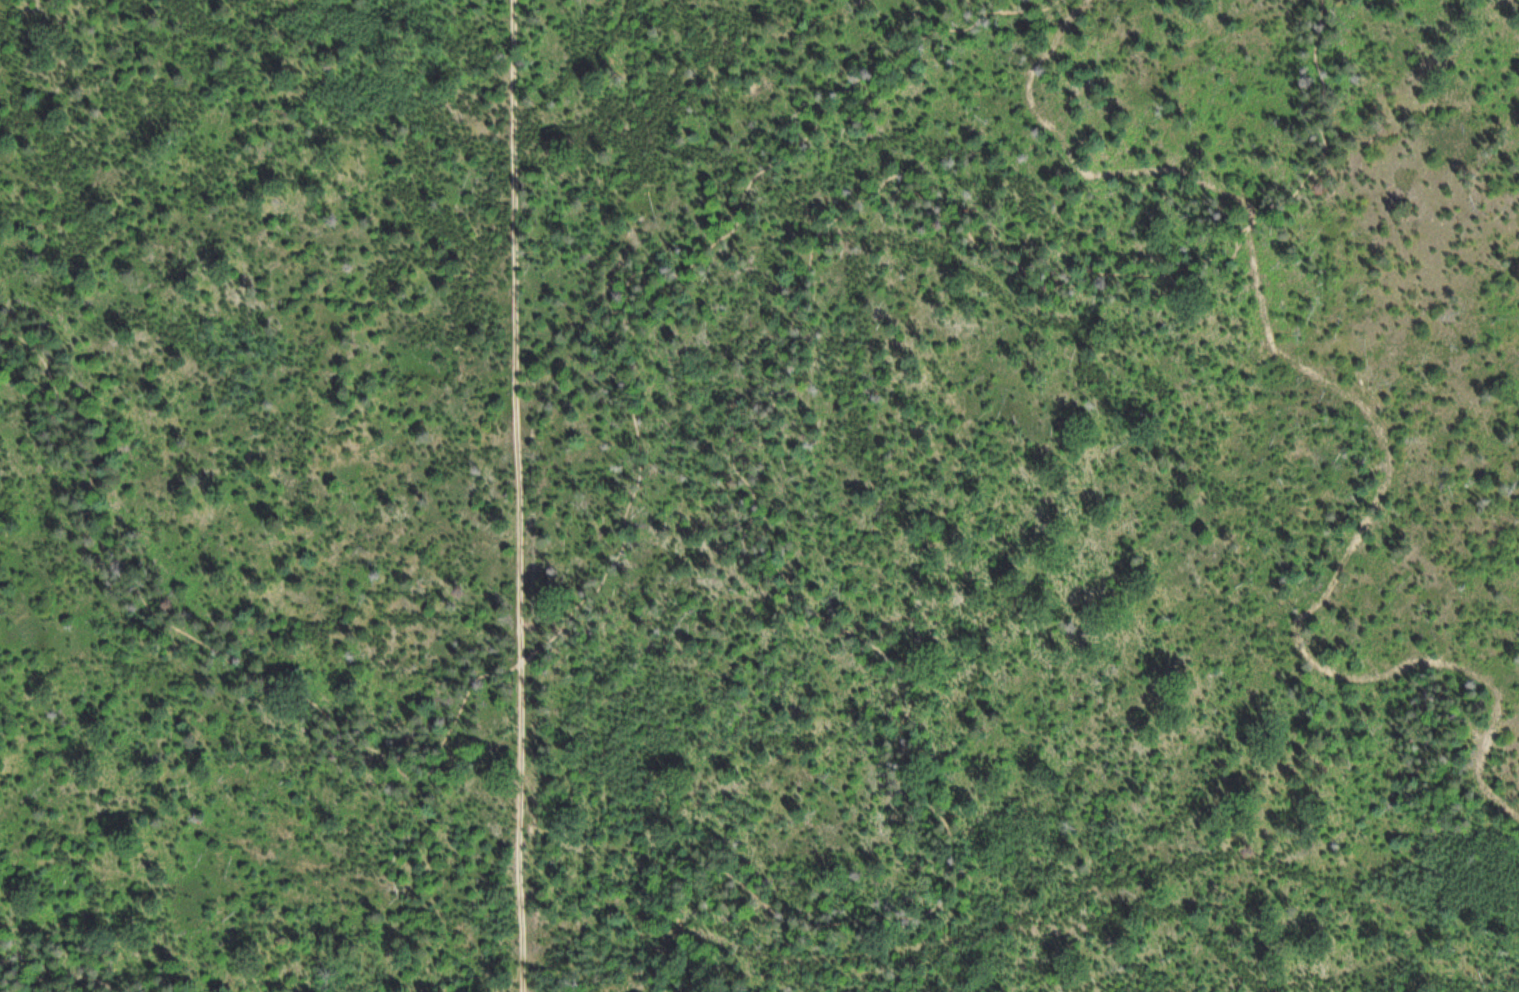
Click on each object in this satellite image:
road: (787, 361)
road: (1364, 406)
road: (520, 495)
road: (682, 498)
road: (567, 619)
road: (683, 922)
road: (59, 975)

